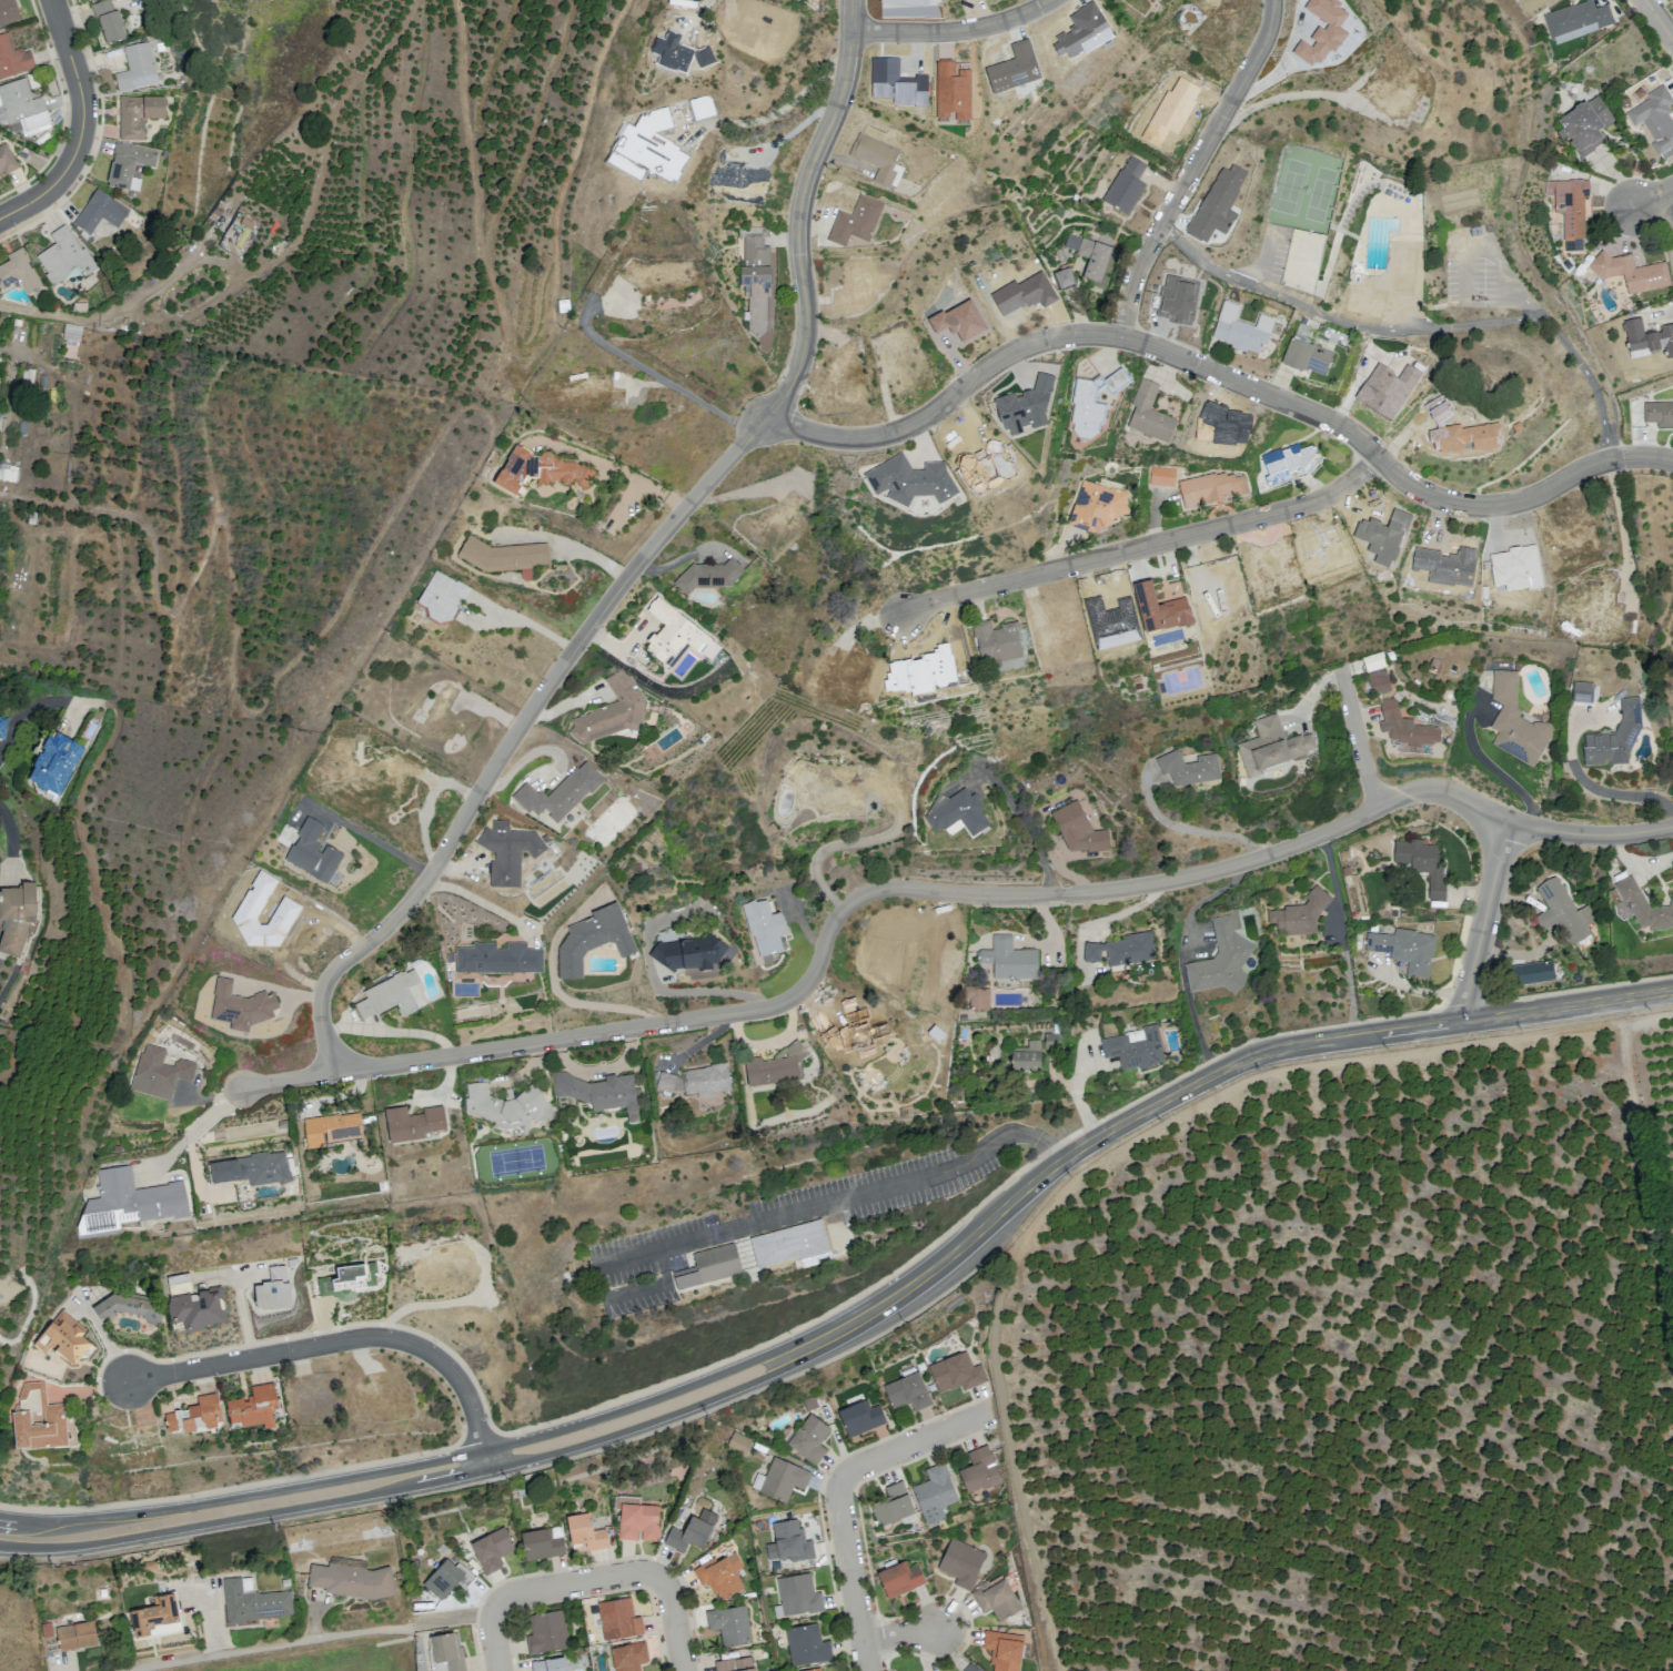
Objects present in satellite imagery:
road: (702, 12)
building: (8, 13)
road: (1657, 19)
building: (1578, 21)
building: (110, 30)
road: (958, 32)
building: (13, 61)
building: (137, 70)
road: (1293, 91)
building: (21, 110)
road: (773, 112)
building: (137, 115)
building: (1656, 119)
road: (83, 126)
building: (1585, 126)
building: (878, 159)
building: (7, 161)
building: (128, 168)
road: (1198, 170)
building: (1560, 170)
road: (1652, 196)
building: (1570, 210)
building: (100, 214)
building: (856, 222)
building: (238, 232)
building: (64, 260)
building: (1095, 260)
building: (1631, 273)
building: (19, 277)
building: (756, 278)
building: (1065, 278)
building: (1242, 328)
building: (72, 334)
road: (1418, 335)
building: (1307, 357)
road: (651, 372)
building: (577, 378)
road: (1223, 378)
building: (1094, 404)
building: (1150, 414)
building: (1659, 414)
building: (1290, 464)
building: (540, 472)
building: (1161, 476)
building: (1211, 488)
building: (1097, 507)
road: (1147, 548)
building: (505, 556)
road: (645, 557)
building: (709, 576)
building: (443, 597)
building: (1161, 610)
road: (525, 620)
building: (677, 637)
building: (998, 641)
building: (1380, 682)
building: (1583, 692)
building: (612, 712)
road: (28, 713)
building: (1516, 720)
building: (2, 727)
building: (1409, 728)
road: (1358, 737)
building: (1615, 738)
building: (1274, 748)
building: (54, 762)
road: (1491, 768)
building: (1192, 770)
road: (1606, 791)
building: (562, 793)
building: (957, 812)
road: (1185, 828)
building: (1078, 833)
road: (373, 839)
building: (312, 853)
building: (508, 854)
building: (1425, 865)
road: (938, 891)
road: (478, 902)
building: (1645, 908)
building: (1565, 913)
building: (16, 916)
building: (1300, 916)
road: (1484, 920)
building: (765, 928)
building: (593, 940)
building: (1126, 951)
building: (1409, 951)
building: (693, 955)
building: (500, 960)
building: (1011, 960)
building: (1223, 962)
building: (1531, 972)
building: (387, 997)
building: (981, 1001)
road: (581, 1004)
road: (1571, 1005)
building: (244, 1006)
building: (1055, 1042)
building: (1135, 1047)
building: (1028, 1057)
building: (777, 1067)
building: (168, 1071)
road: (1200, 1080)
building: (709, 1081)
building: (666, 1083)
building: (601, 1093)
building: (507, 1106)
building: (413, 1123)
building: (339, 1130)
road: (189, 1132)
building: (260, 1169)
road: (832, 1196)
building: (135, 1203)
building: (755, 1250)
building: (347, 1280)
building: (272, 1290)
road: (889, 1296)
building: (192, 1304)
building: (127, 1307)
building: (63, 1338)
road: (335, 1343)
building: (956, 1373)
building: (907, 1391)
building: (253, 1407)
building: (194, 1416)
building: (859, 1417)
building: (37, 1419)
building: (808, 1438)
building: (738, 1441)
road: (901, 1446)
road: (484, 1460)
road: (406, 1466)
building: (978, 1470)
building: (779, 1479)
road: (410, 1486)
building: (934, 1493)
building: (891, 1505)
building: (636, 1519)
building: (584, 1532)
building: (687, 1533)
building: (788, 1541)
building: (540, 1545)
building: (491, 1549)
building: (960, 1562)
building: (719, 1574)
building: (445, 1578)
building: (351, 1579)
building: (899, 1579)
road: (572, 1581)
road: (850, 1586)
building: (796, 1593)
building: (995, 1598)
building: (253, 1601)
building: (153, 1614)
building: (617, 1619)
building: (729, 1624)
road: (674, 1626)
building: (546, 1631)
road: (898, 1632)
building: (74, 1635)
road: (308, 1639)
road: (494, 1644)
building: (806, 1644)
building: (1002, 1650)
building: (445, 1652)
building: (627, 1655)
building: (548, 1664)
building: (734, 1664)
building: (970, 1668)
building: (812, 1669)

